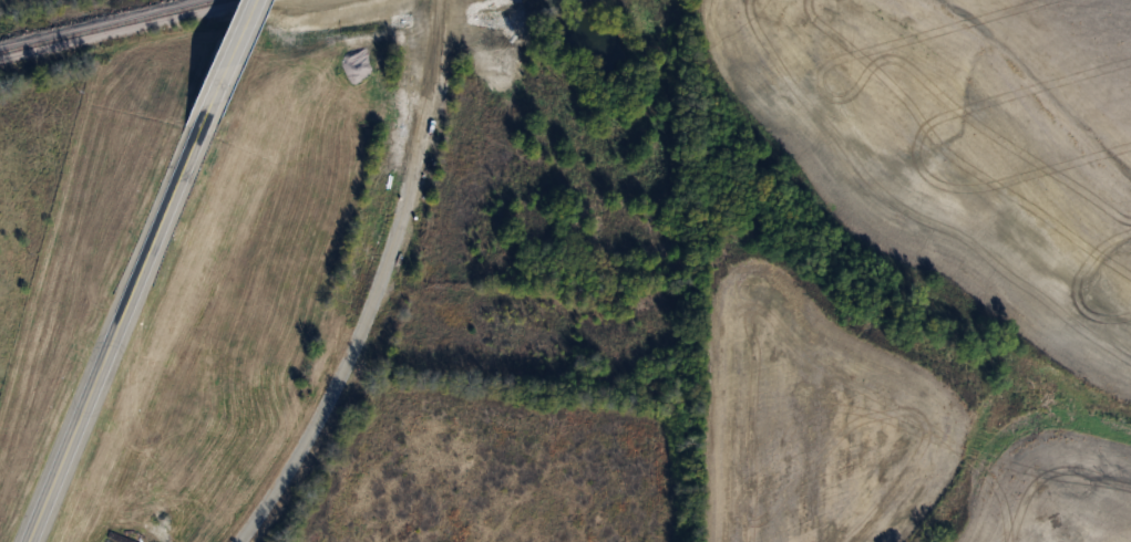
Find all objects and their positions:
railway: (115, 27)
road: (232, 51)
road: (120, 322)

